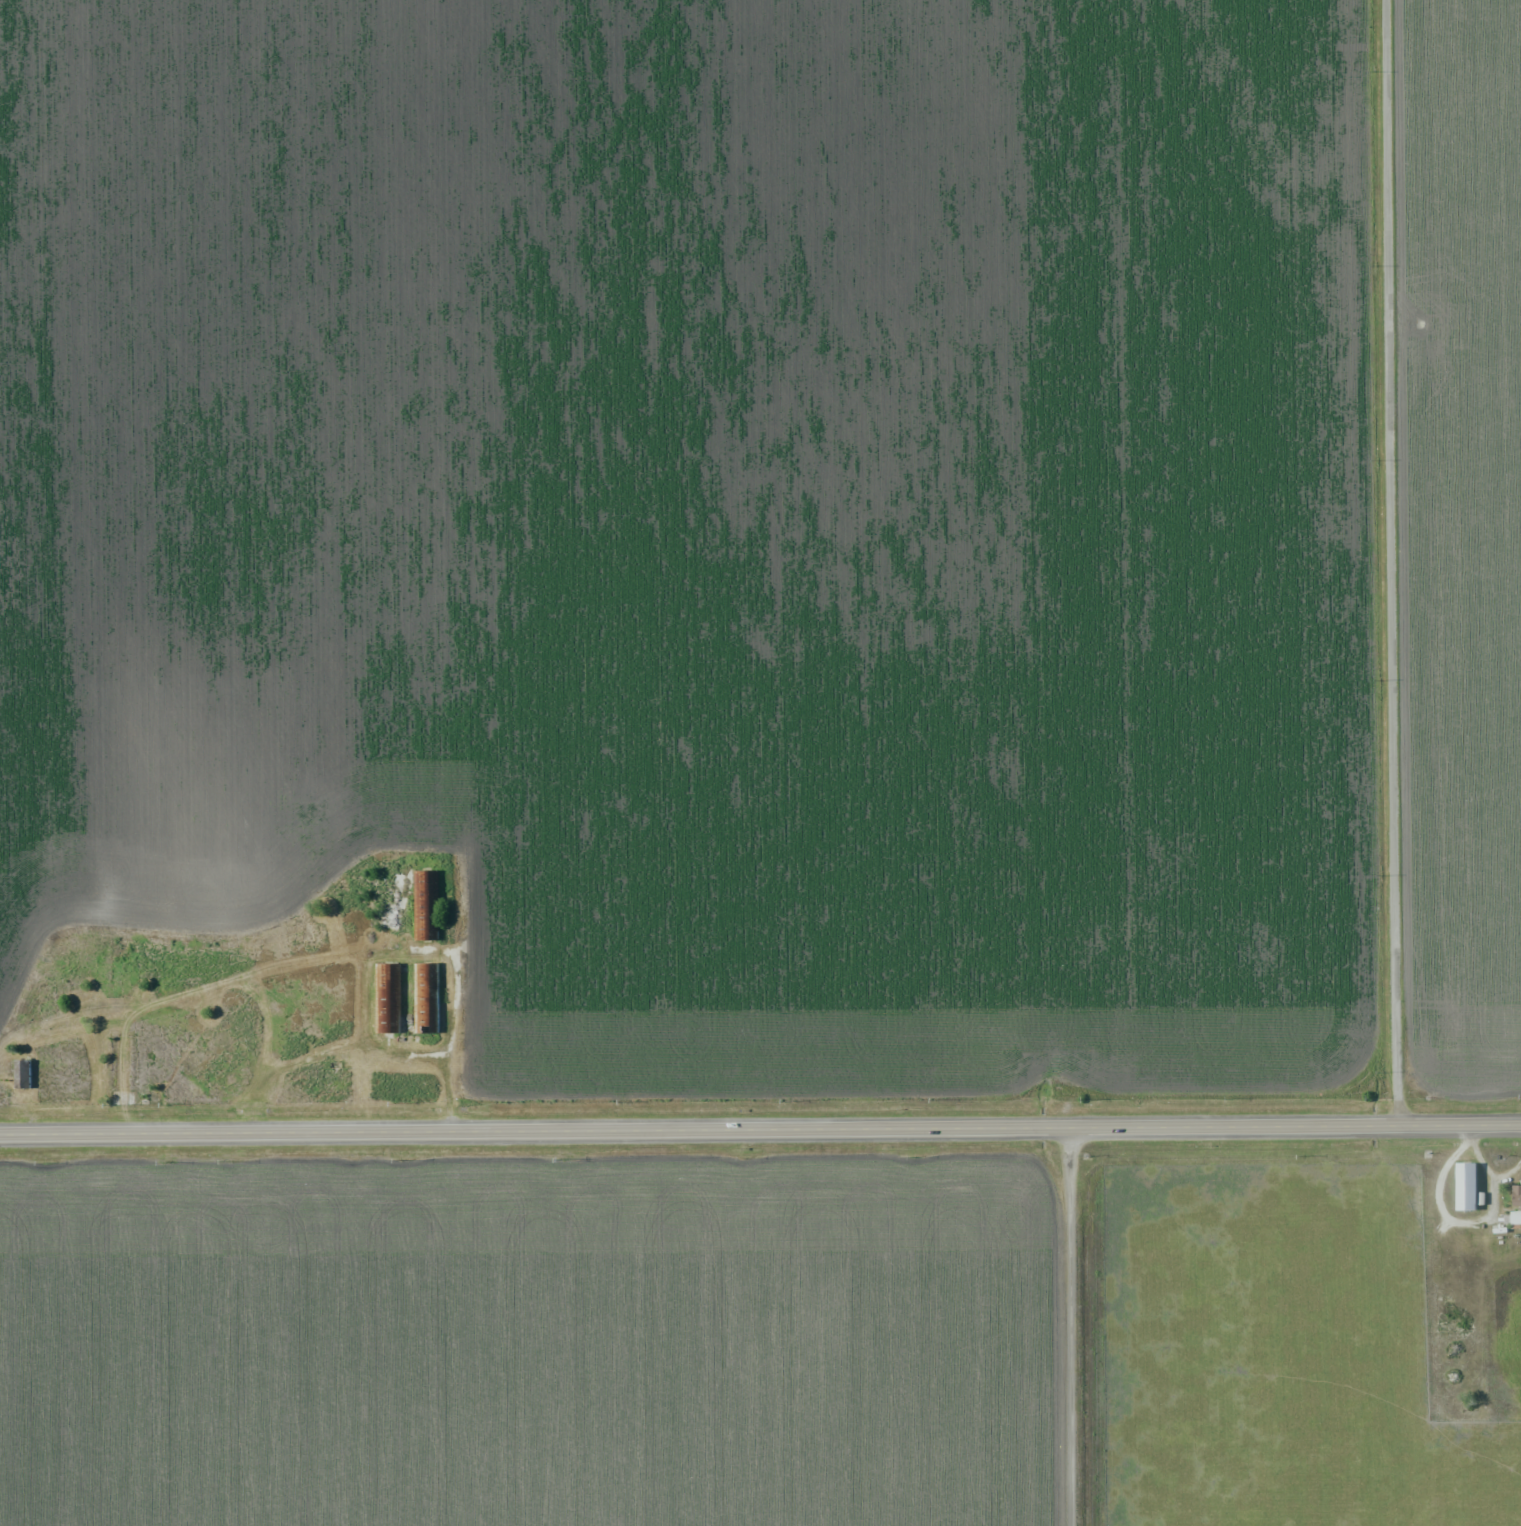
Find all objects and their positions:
road: (1402, 562)
building: (425, 904)
building: (24, 1073)
road: (760, 1129)
building: (1468, 1185)
road: (1065, 1327)

